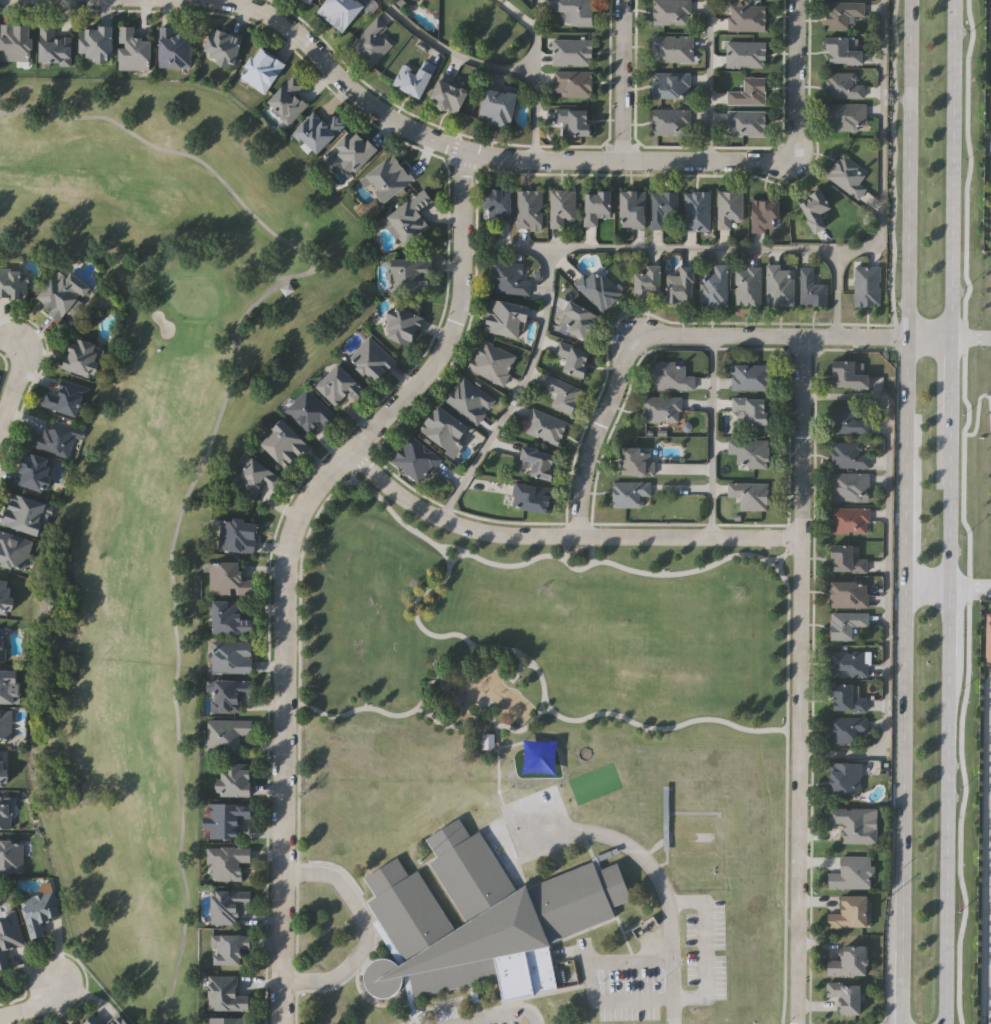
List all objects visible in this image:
building: (308, 0)
building: (413, 0)
building: (575, 10)
building: (338, 11)
building: (670, 12)
building: (841, 12)
building: (746, 17)
building: (17, 41)
building: (371, 41)
building: (99, 42)
building: (56, 45)
building: (220, 45)
building: (175, 47)
building: (671, 47)
building: (135, 49)
road: (453, 50)
building: (840, 50)
building: (571, 51)
building: (744, 53)
building: (261, 69)
road: (535, 77)
road: (796, 78)
building: (410, 79)
road: (622, 79)
road: (709, 80)
building: (572, 82)
building: (670, 84)
building: (843, 84)
building: (748, 90)
building: (445, 95)
building: (287, 99)
building: (495, 106)
building: (846, 115)
building: (574, 120)
building: (670, 121)
building: (746, 122)
building: (316, 130)
road: (882, 141)
building: (351, 149)
road: (494, 151)
road: (909, 168)
road: (953, 168)
building: (847, 174)
building: (387, 177)
building: (495, 204)
building: (595, 205)
building: (561, 206)
building: (662, 206)
building: (528, 207)
building: (728, 207)
building: (631, 208)
building: (813, 208)
building: (696, 210)
building: (763, 214)
building: (407, 217)
road: (508, 248)
road: (694, 249)
building: (408, 274)
building: (509, 277)
building: (646, 280)
building: (14, 283)
building: (679, 284)
building: (866, 284)
building: (714, 285)
building: (748, 285)
building: (779, 285)
building: (597, 288)
building: (810, 288)
building: (62, 293)
road: (837, 293)
building: (503, 317)
building: (576, 320)
building: (399, 324)
road: (10, 336)
road: (771, 336)
road: (929, 337)
road: (971, 337)
building: (84, 357)
building: (572, 357)
building: (371, 359)
building: (491, 361)
building: (848, 373)
building: (671, 375)
building: (750, 376)
building: (337, 384)
road: (14, 385)
road: (520, 389)
road: (952, 390)
building: (562, 393)
building: (66, 397)
building: (468, 398)
building: (662, 408)
building: (750, 409)
building: (309, 411)
building: (848, 419)
building: (544, 426)
building: (443, 429)
road: (596, 435)
road: (712, 436)
building: (54, 438)
building: (283, 443)
building: (750, 452)
building: (849, 455)
building: (414, 458)
building: (537, 462)
building: (635, 462)
building: (36, 472)
park: (155, 474)
road: (351, 474)
building: (255, 477)
building: (850, 486)
building: (629, 493)
building: (748, 495)
building: (531, 498)
road: (317, 511)
building: (25, 513)
building: (849, 520)
road: (562, 533)
building: (237, 535)
building: (14, 550)
road: (282, 554)
road: (566, 556)
road: (591, 556)
road: (455, 557)
road: (774, 559)
building: (845, 559)
road: (607, 562)
road: (887, 575)
building: (228, 578)
road: (925, 588)
road: (971, 588)
building: (848, 594)
building: (5, 595)
building: (227, 618)
building: (845, 623)
park: (536, 639)
building: (988, 639)
building: (2, 644)
road: (475, 647)
building: (230, 656)
building: (848, 663)
road: (800, 680)
road: (899, 680)
building: (9, 686)
building: (228, 694)
building: (845, 698)
road: (424, 703)
road: (545, 710)
road: (423, 711)
building: (5, 725)
building: (845, 728)
road: (747, 729)
road: (950, 733)
building: (226, 734)
building: (487, 743)
building: (3, 768)
building: (845, 777)
building: (233, 779)
building: (6, 812)
building: (225, 818)
building: (853, 824)
building: (688, 838)
building: (11, 856)
building: (226, 860)
building: (851, 872)
road: (665, 899)
building: (225, 904)
building: (40, 911)
building: (848, 912)
building: (480, 919)
road: (365, 930)
building: (8, 938)
building: (227, 947)
road: (706, 949)
building: (849, 961)
road: (586, 981)
building: (223, 993)
building: (844, 996)
road: (33, 1006)
road: (60, 1010)
road: (498, 1016)
building: (121, 1020)
building: (226, 1020)
building: (94, 1021)

